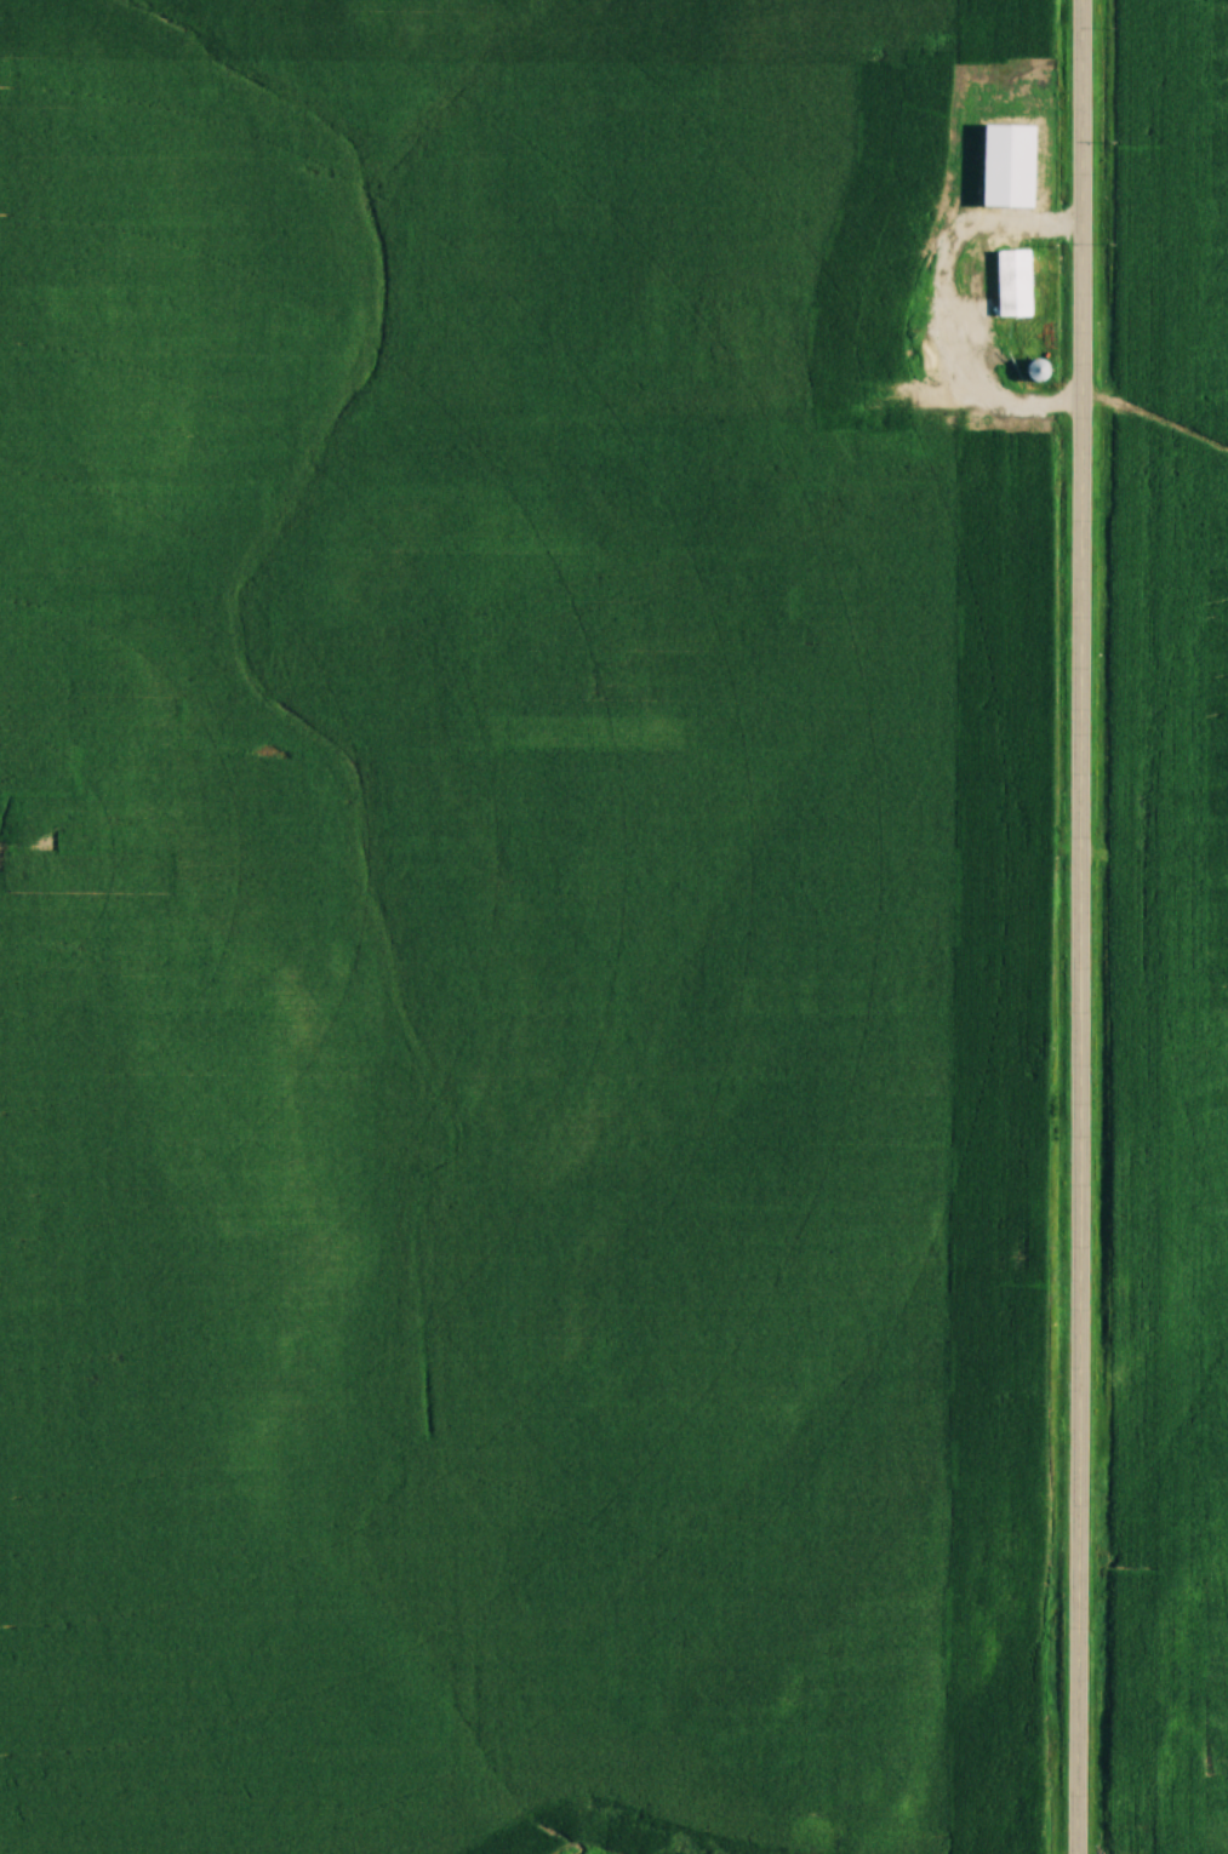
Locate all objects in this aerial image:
building: (1039, 371)
road: (1084, 927)

